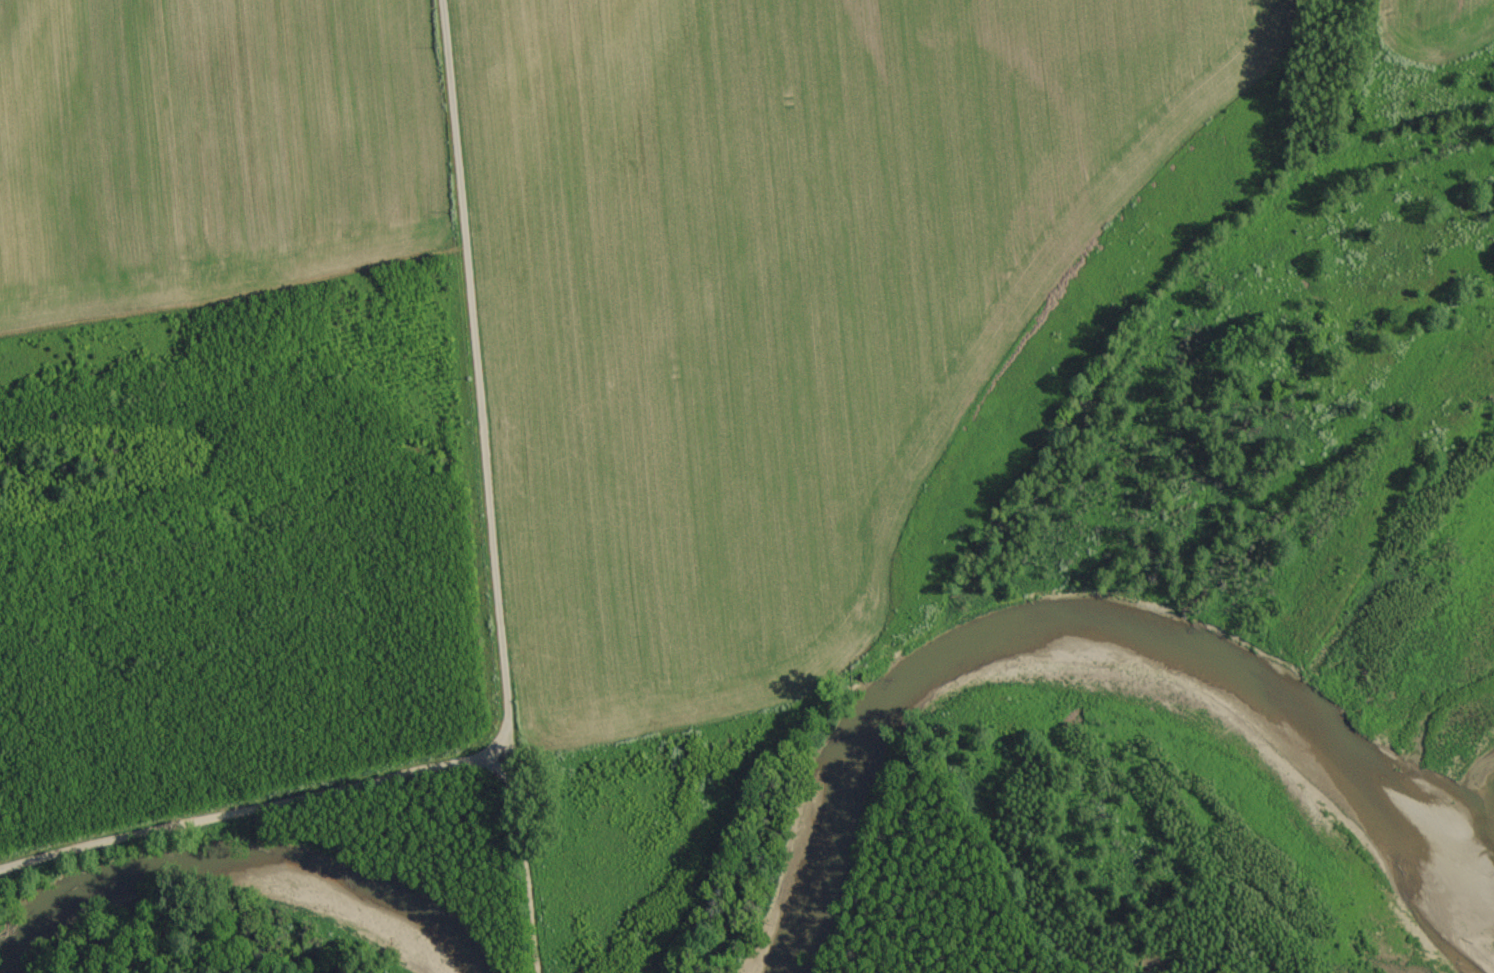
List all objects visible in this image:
road: (477, 376)
road: (252, 804)
river: (1393, 827)
road: (523, 863)

